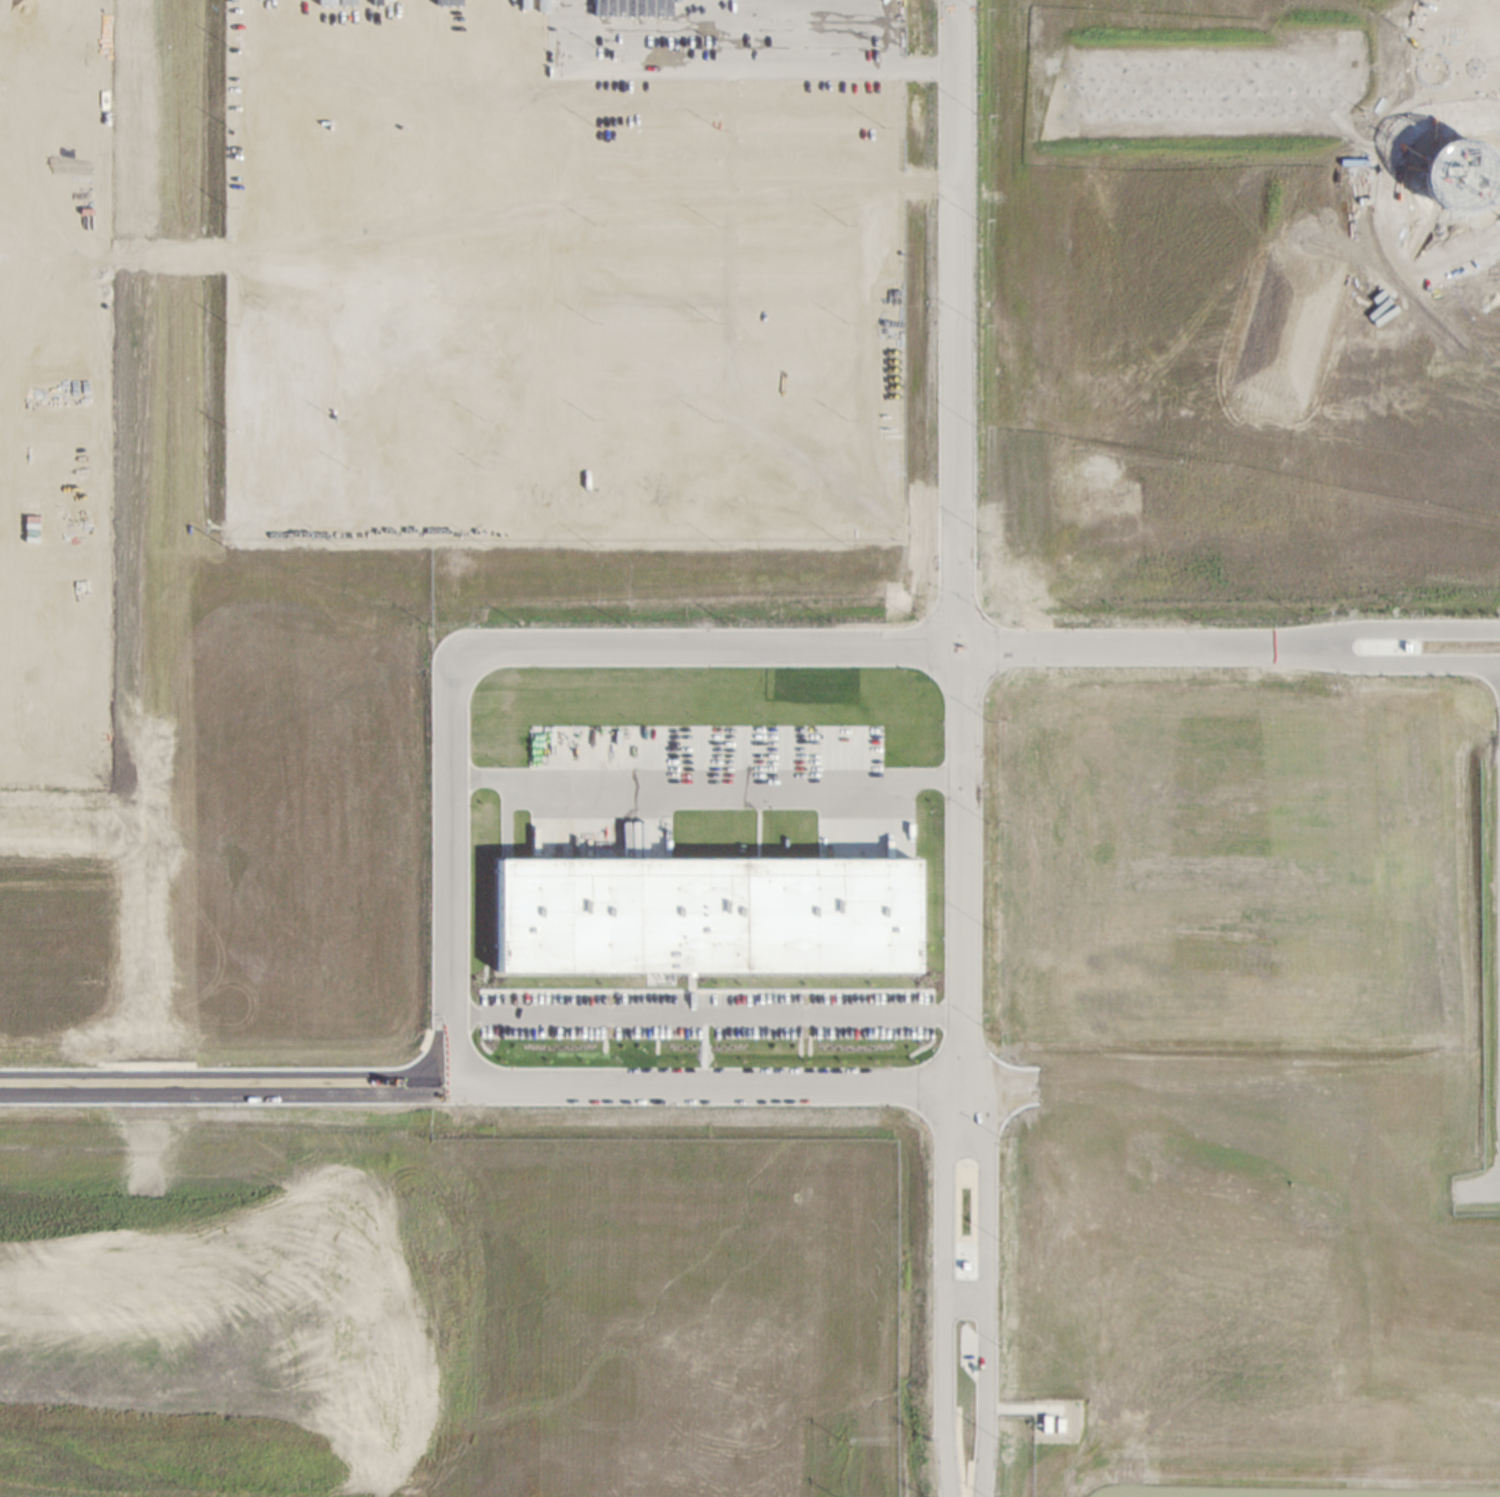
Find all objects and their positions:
building: (631, 8)
road: (766, 66)
building: (1454, 176)
road: (954, 541)
road: (1386, 627)
road: (650, 647)
road: (1387, 663)
road: (706, 776)
building: (701, 915)
road: (705, 1014)
road: (505, 1084)
road: (1477, 1191)
road: (985, 1287)
road: (939, 1288)
road: (962, 1301)

